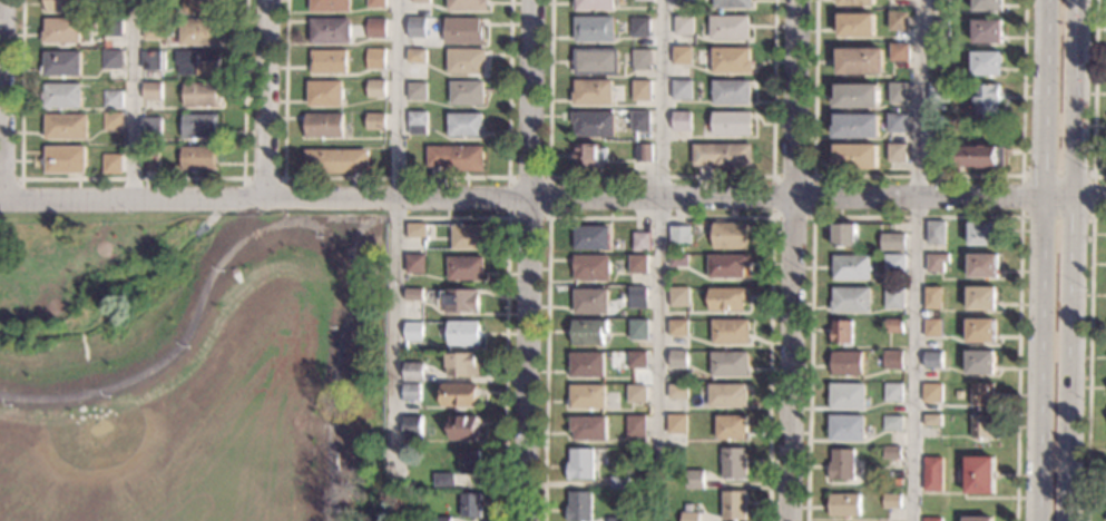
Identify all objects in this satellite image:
building: (645, 0)
building: (683, 0)
building: (421, 1)
building: (855, 2)
building: (376, 3)
building: (593, 4)
building: (733, 4)
building: (940, 4)
building: (63, 6)
building: (330, 6)
building: (468, 6)
building: (988, 6)
building: (154, 7)
building: (202, 7)
building: (898, 21)
building: (683, 26)
building: (855, 26)
building: (639, 27)
building: (114, 28)
building: (418, 28)
building: (730, 28)
building: (939, 28)
building: (376, 29)
building: (594, 29)
building: (153, 30)
building: (61, 31)
building: (331, 31)
building: (464, 31)
building: (987, 31)
building: (199, 32)
building: (899, 52)
building: (682, 55)
building: (417, 56)
building: (112, 59)
building: (376, 59)
building: (939, 59)
building: (642, 60)
building: (732, 60)
building: (153, 61)
building: (467, 61)
building: (596, 61)
building: (859, 61)
building: (197, 62)
building: (330, 62)
building: (62, 63)
building: (986, 63)
building: (376, 88)
building: (682, 89)
building: (642, 90)
building: (153, 91)
building: (418, 91)
building: (591, 92)
building: (731, 92)
building: (898, 92)
building: (939, 92)
building: (325, 94)
building: (468, 94)
building: (200, 95)
road: (1094, 95)
building: (63, 96)
building: (855, 96)
building: (114, 99)
road: (4, 100)
road: (135, 100)
road: (267, 100)
building: (987, 101)
building: (114, 121)
building: (376, 121)
building: (640, 121)
building: (682, 121)
building: (418, 122)
building: (898, 122)
building: (594, 124)
building: (732, 124)
building: (325, 125)
building: (466, 125)
building: (66, 126)
building: (199, 126)
building: (857, 126)
building: (151, 127)
building: (644, 153)
building: (898, 154)
building: (589, 156)
building: (724, 156)
building: (855, 157)
building: (982, 157)
building: (199, 158)
building: (457, 158)
building: (65, 160)
building: (337, 161)
building: (151, 163)
building: (112, 164)
road: (918, 176)
road: (397, 177)
road: (659, 177)
road: (1093, 177)
road: (130, 178)
road: (10, 179)
road: (284, 181)
road: (552, 201)
road: (659, 217)
road: (812, 217)
road: (917, 217)
road: (547, 218)
road: (660, 228)
building: (705, 229)
building: (415, 230)
building: (936, 233)
building: (983, 234)
building: (679, 235)
building: (844, 235)
building: (731, 236)
building: (469, 238)
building: (590, 238)
road: (397, 239)
building: (640, 242)
building: (892, 242)
road: (526, 259)
road: (790, 259)
road: (916, 259)
road: (1041, 259)
road: (1068, 259)
building: (678, 260)
building: (936, 262)
building: (414, 264)
building: (637, 264)
building: (894, 264)
building: (727, 266)
building: (982, 266)
building: (851, 267)
building: (466, 268)
building: (590, 268)
building: (413, 295)
building: (679, 296)
building: (637, 297)
building: (894, 298)
building: (933, 298)
building: (981, 298)
building: (727, 299)
building: (851, 301)
building: (460, 302)
building: (590, 302)
road: (202, 309)
road: (506, 313)
building: (894, 326)
building: (678, 328)
building: (933, 328)
building: (638, 330)
building: (981, 331)
building: (413, 332)
building: (589, 332)
building: (730, 332)
building: (842, 333)
building: (463, 334)
road: (335, 360)
building: (637, 360)
building: (678, 360)
building: (893, 360)
building: (934, 360)
road: (1089, 362)
building: (848, 363)
building: (980, 363)
building: (728, 364)
building: (462, 365)
building: (587, 365)
park: (192, 371)
building: (414, 372)
building: (677, 392)
building: (411, 393)
building: (893, 393)
building: (932, 393)
building: (636, 394)
building: (460, 395)
building: (727, 395)
building: (982, 395)
building: (587, 396)
building: (848, 396)
building: (932, 421)
building: (893, 423)
building: (676, 424)
building: (636, 426)
building: (464, 427)
building: (588, 427)
building: (731, 427)
building: (848, 427)
building: (981, 427)
building: (413, 429)
building: (892, 452)
building: (469, 462)
building: (580, 463)
building: (733, 463)
building: (843, 464)
building: (933, 474)
building: (979, 475)
building: (446, 480)
building: (695, 480)
building: (618, 483)
building: (891, 501)
building: (471, 505)
building: (734, 505)
building: (845, 505)
building: (579, 507)
building: (691, 517)
building: (442, 519)
building: (617, 519)
building: (931, 519)
building: (977, 519)

